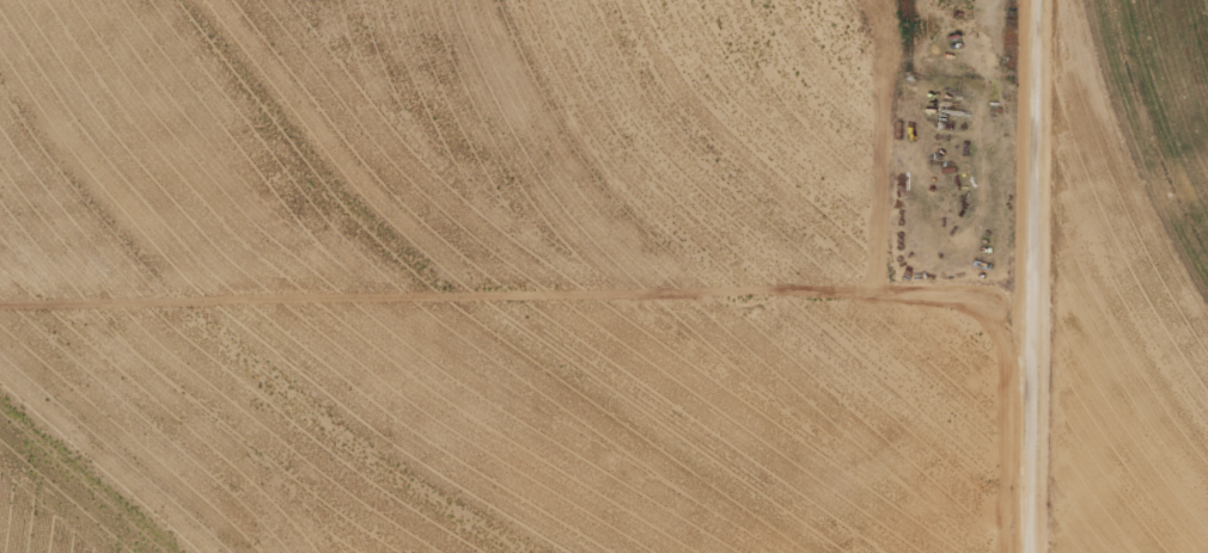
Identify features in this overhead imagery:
road: (1031, 276)

